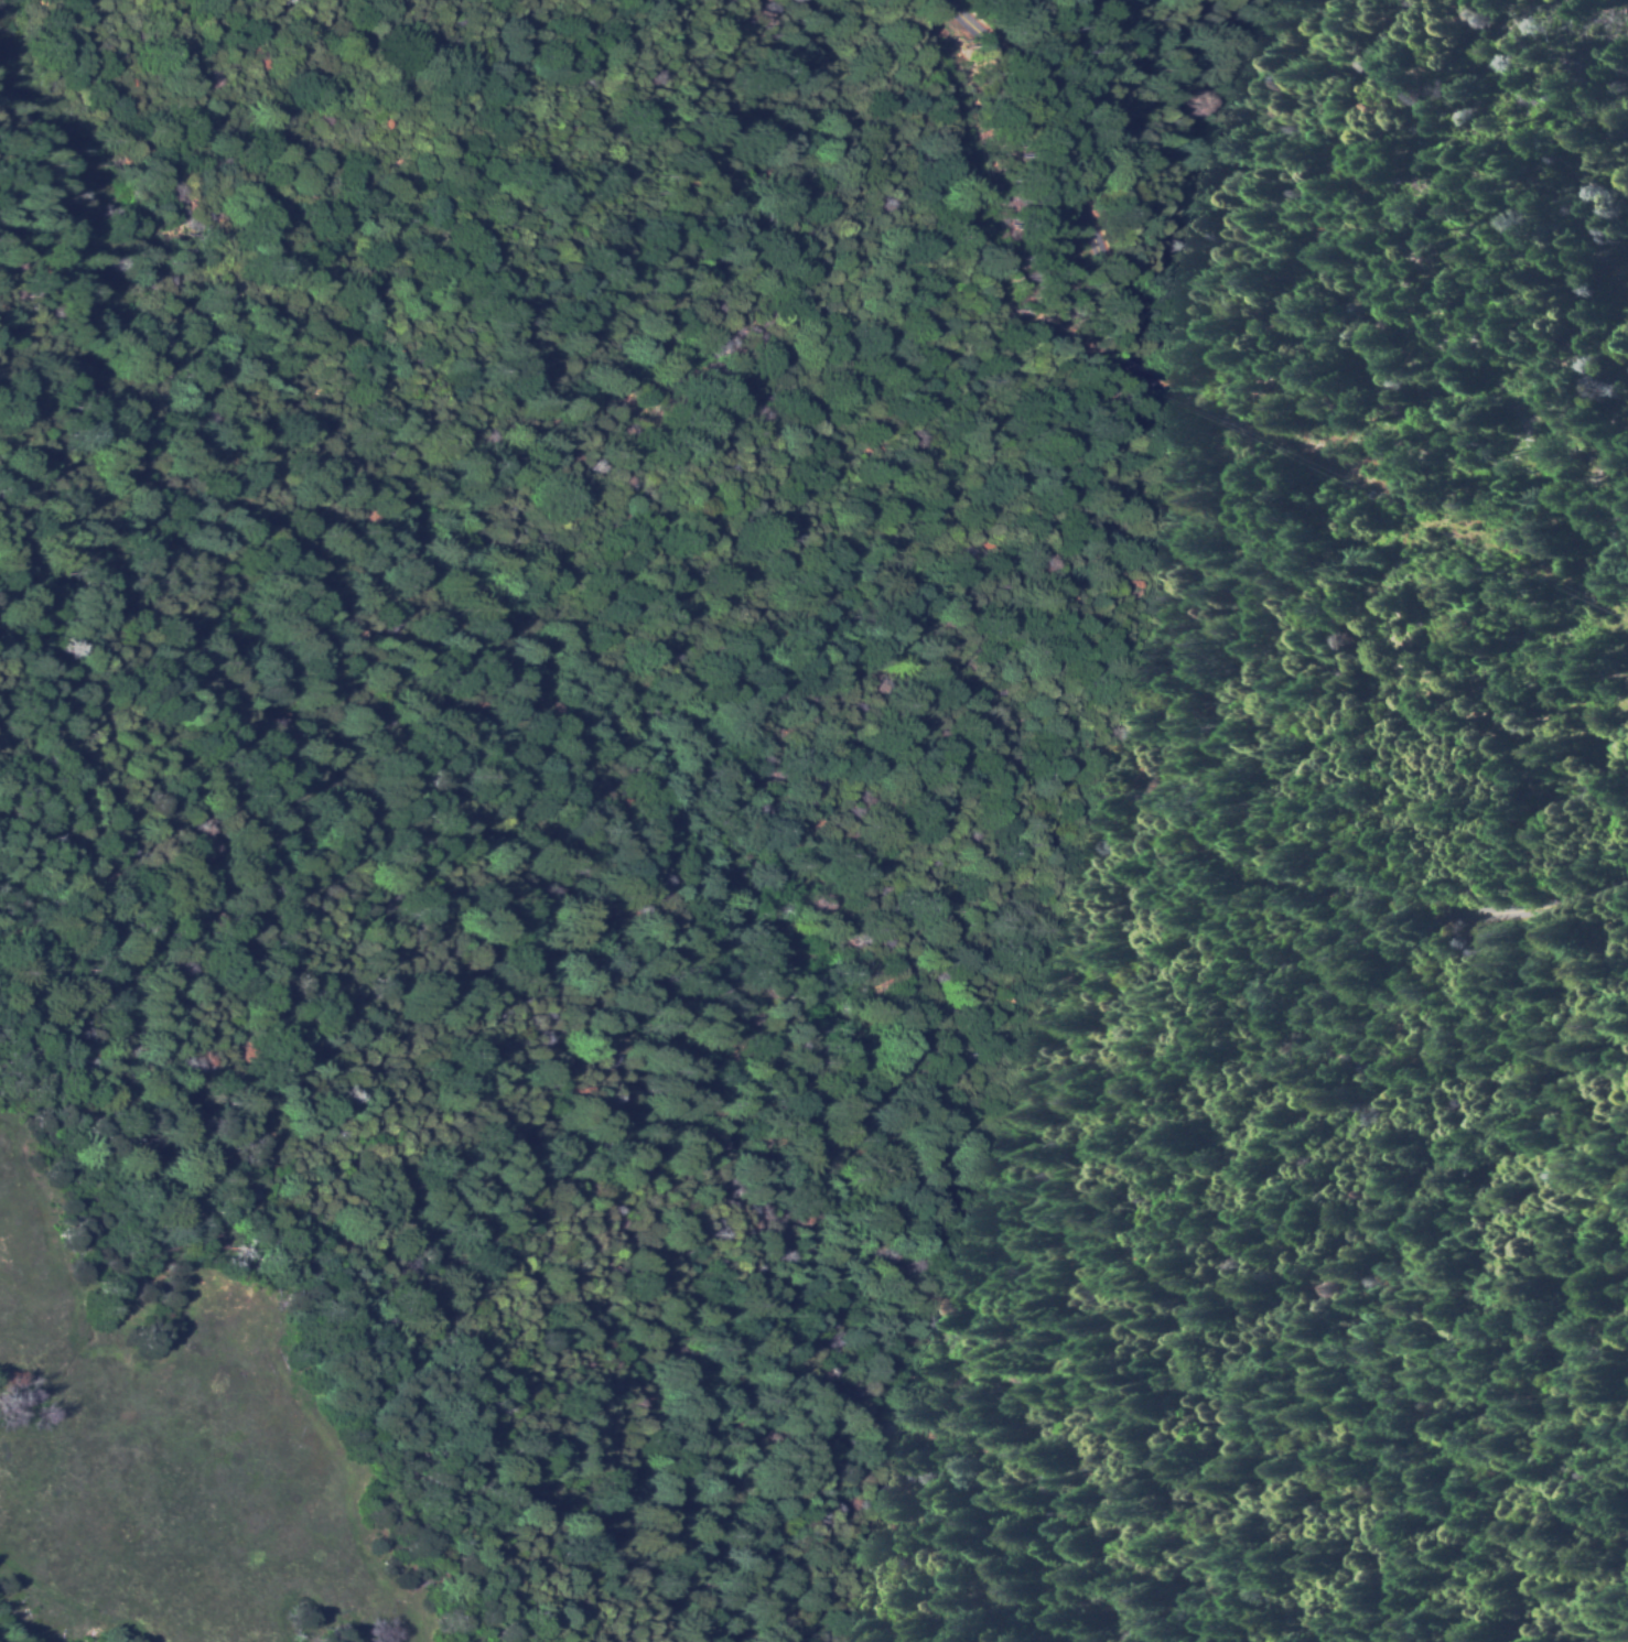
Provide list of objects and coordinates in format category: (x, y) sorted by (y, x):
road: (1226, 588)

